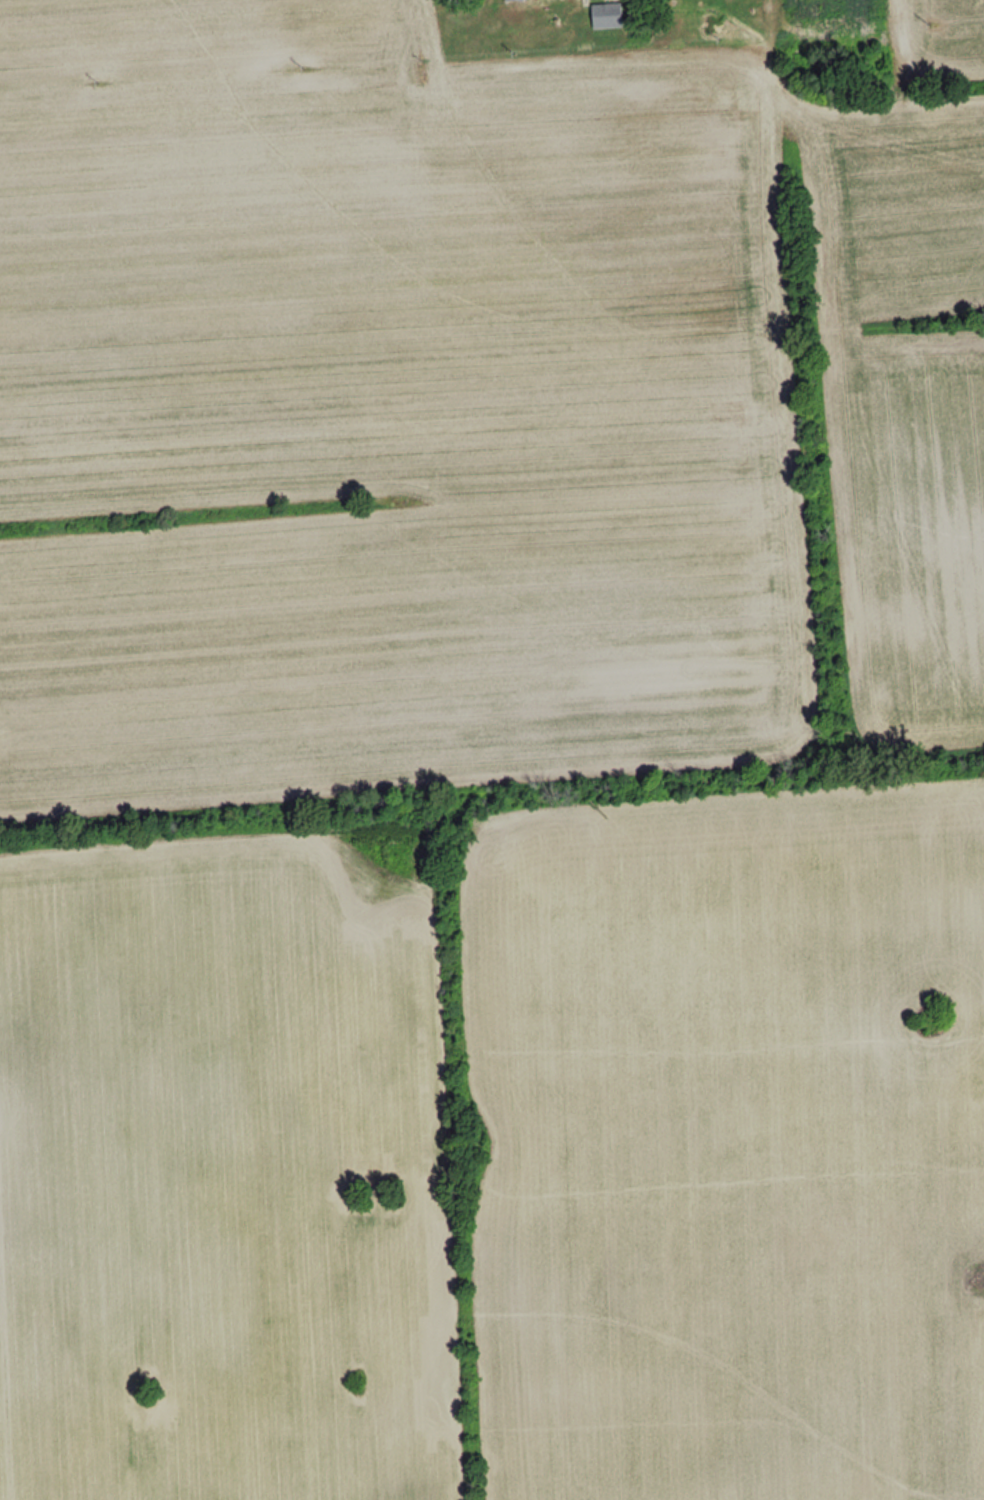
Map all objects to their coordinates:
building: (504, 0)
building: (606, 15)

